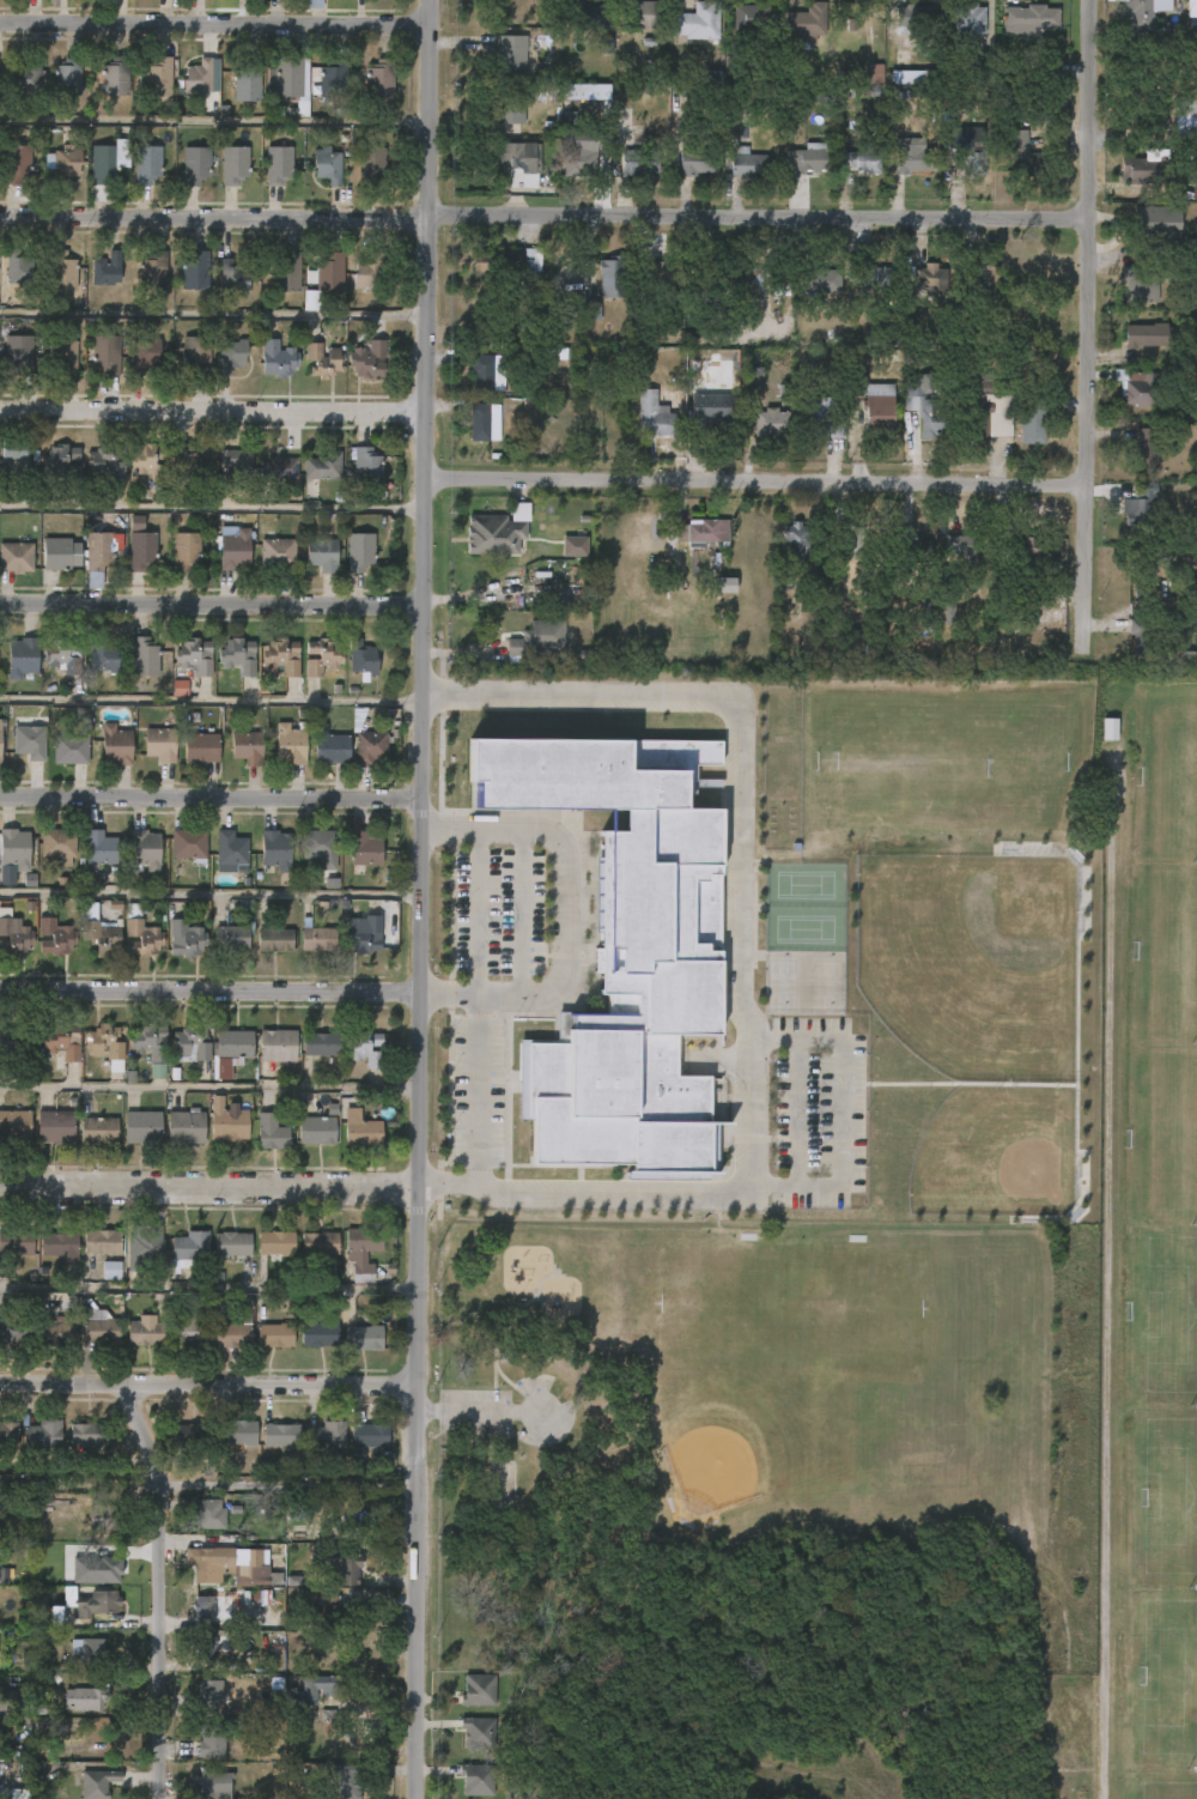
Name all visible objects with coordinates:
building: (314, 4)
building: (1190, 13)
building: (645, 14)
building: (751, 14)
building: (587, 16)
building: (915, 16)
building: (1137, 16)
building: (968, 18)
building: (1031, 19)
building: (694, 22)
building: (803, 22)
road: (215, 28)
building: (604, 44)
building: (511, 54)
building: (982, 68)
building: (1047, 68)
building: (871, 71)
building: (24, 74)
building: (65, 75)
building: (114, 75)
building: (154, 75)
building: (195, 77)
building: (907, 77)
building: (284, 78)
building: (330, 78)
building: (377, 79)
building: (245, 81)
building: (585, 92)
building: (514, 110)
building: (1185, 116)
road: (215, 121)
building: (967, 150)
building: (579, 153)
building: (1023, 155)
building: (806, 158)
building: (861, 159)
building: (912, 159)
building: (518, 160)
building: (638, 162)
building: (17, 163)
building: (61, 163)
building: (99, 163)
building: (697, 163)
building: (145, 164)
building: (235, 164)
building: (749, 164)
building: (196, 165)
building: (277, 165)
building: (326, 166)
building: (369, 166)
building: (1135, 170)
building: (1193, 176)
road: (757, 214)
road: (214, 219)
building: (1156, 223)
building: (512, 266)
building: (18, 268)
building: (108, 269)
building: (153, 271)
building: (62, 272)
building: (196, 272)
building: (328, 272)
building: (287, 273)
building: (370, 273)
building: (990, 275)
building: (608, 277)
building: (881, 277)
building: (930, 277)
building: (233, 278)
building: (820, 278)
building: (662, 279)
building: (739, 280)
building: (1137, 281)
building: (698, 286)
building: (589, 311)
road: (1084, 311)
road: (213, 314)
building: (1143, 334)
building: (196, 352)
building: (19, 353)
building: (63, 355)
building: (105, 355)
building: (146, 355)
building: (232, 356)
building: (280, 359)
building: (370, 359)
building: (324, 361)
building: (485, 371)
building: (1138, 387)
building: (710, 408)
building: (924, 408)
road: (213, 410)
building: (652, 414)
building: (877, 414)
building: (988, 414)
building: (820, 418)
building: (1031, 420)
building: (764, 422)
building: (476, 423)
building: (836, 431)
building: (1143, 447)
building: (18, 452)
building: (237, 459)
building: (62, 460)
building: (107, 460)
building: (151, 460)
building: (187, 462)
building: (324, 466)
building: (367, 466)
building: (280, 467)
road: (755, 483)
road: (212, 508)
building: (1136, 510)
building: (135, 523)
building: (700, 531)
building: (492, 534)
building: (792, 543)
building: (849, 544)
building: (573, 546)
building: (102, 547)
building: (141, 549)
building: (1029, 549)
building: (187, 550)
building: (236, 550)
building: (363, 551)
building: (909, 551)
building: (56, 552)
building: (278, 552)
building: (323, 552)
building: (966, 555)
building: (17, 556)
building: (724, 586)
road: (212, 605)
building: (948, 614)
building: (1140, 636)
building: (850, 637)
building: (537, 638)
building: (63, 654)
building: (103, 655)
building: (23, 656)
building: (142, 656)
building: (192, 656)
building: (235, 656)
building: (279, 656)
building: (320, 656)
building: (1181, 656)
building: (360, 659)
building: (180, 688)
road: (211, 699)
building: (1108, 729)
building: (28, 743)
building: (160, 744)
building: (291, 744)
building: (117, 745)
building: (249, 745)
building: (0, 747)
building: (201, 747)
building: (371, 747)
building: (333, 749)
building: (68, 750)
park: (931, 761)
park: (1171, 771)
road: (211, 799)
building: (189, 843)
building: (320, 843)
building: (55, 846)
building: (14, 848)
building: (97, 848)
building: (366, 849)
building: (141, 850)
building: (277, 850)
building: (232, 852)
park: (803, 884)
road: (209, 895)
road: (419, 898)
road: (564, 911)
road: (518, 914)
park: (803, 928)
building: (96, 931)
building: (138, 935)
building: (365, 935)
building: (12, 937)
building: (54, 937)
building: (229, 938)
building: (183, 939)
building: (318, 939)
building: (275, 940)
park: (1166, 951)
road: (743, 952)
building: (626, 953)
park: (970, 961)
road: (209, 991)
road: (475, 1008)
building: (18, 1038)
building: (62, 1041)
building: (150, 1041)
building: (192, 1043)
building: (322, 1043)
building: (107, 1044)
building: (279, 1044)
building: (366, 1048)
building: (229, 1049)
building: (157, 1071)
road: (208, 1089)
building: (231, 1123)
building: (14, 1125)
building: (56, 1127)
building: (144, 1127)
building: (187, 1127)
building: (361, 1129)
building: (99, 1131)
building: (318, 1131)
building: (272, 1133)
park: (1168, 1135)
park: (995, 1153)
road: (208, 1182)
building: (14, 1241)
building: (370, 1241)
building: (99, 1242)
building: (321, 1243)
building: (59, 1244)
building: (142, 1244)
building: (233, 1244)
building: (187, 1247)
building: (274, 1247)
building: (110, 1271)
park: (1132, 1276)
road: (1116, 1278)
road: (207, 1288)
park: (1169, 1313)
building: (99, 1328)
building: (16, 1329)
building: (60, 1329)
building: (189, 1331)
building: (322, 1332)
building: (146, 1333)
building: (235, 1333)
building: (275, 1335)
building: (365, 1338)
park: (789, 1373)
road: (207, 1380)
road: (479, 1409)
road: (147, 1429)
building: (7, 1432)
building: (236, 1432)
building: (85, 1434)
building: (278, 1435)
building: (366, 1435)
building: (188, 1436)
building: (324, 1436)
building: (40, 1437)
park: (745, 1449)
road: (291, 1479)
park: (1169, 1496)
building: (303, 1508)
building: (211, 1513)
building: (104, 1515)
road: (358, 1534)
building: (220, 1567)
building: (341, 1568)
building: (96, 1569)
building: (4, 1574)
building: (96, 1603)
building: (208, 1607)
building: (327, 1611)
building: (48, 1616)
road: (169, 1639)
building: (206, 1643)
building: (93, 1649)
park: (1169, 1678)
building: (317, 1685)
building: (481, 1689)
building: (203, 1696)
building: (86, 1697)
building: (10, 1700)
building: (481, 1732)
building: (209, 1740)
building: (481, 1779)
building: (98, 1783)
building: (213, 1783)
building: (346, 1786)
park: (1167, 1789)

